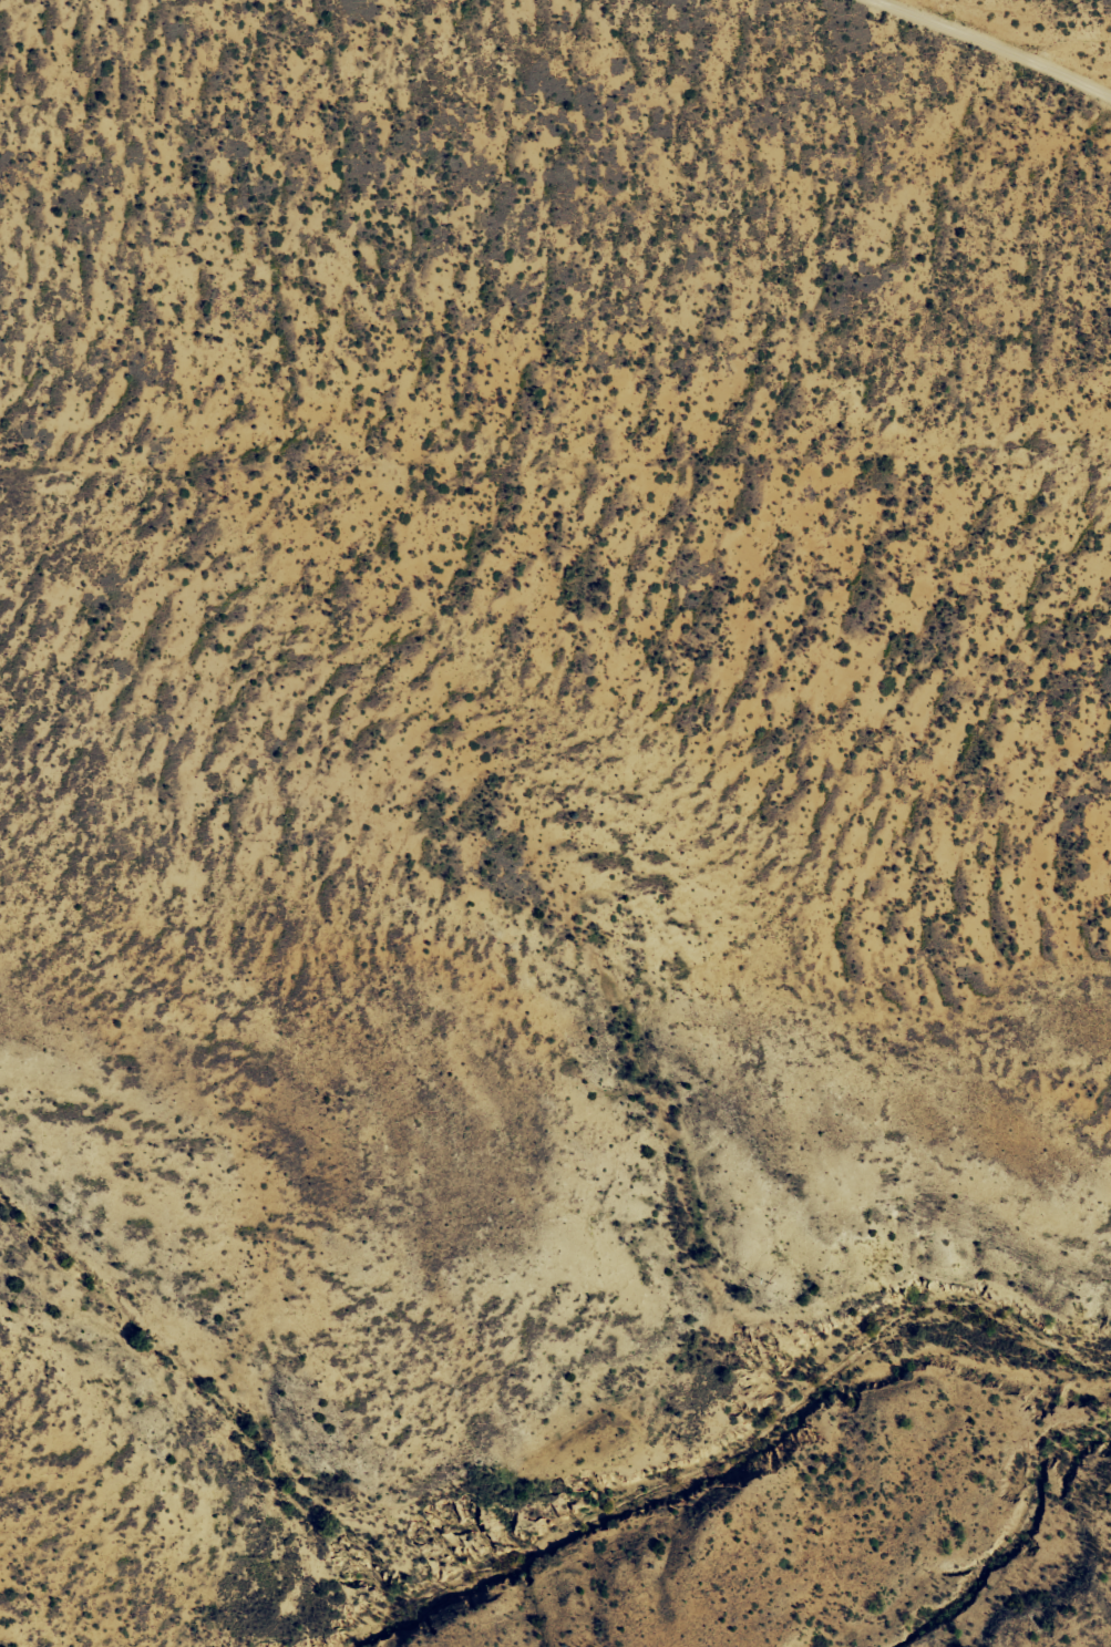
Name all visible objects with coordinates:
road: (990, 53)

